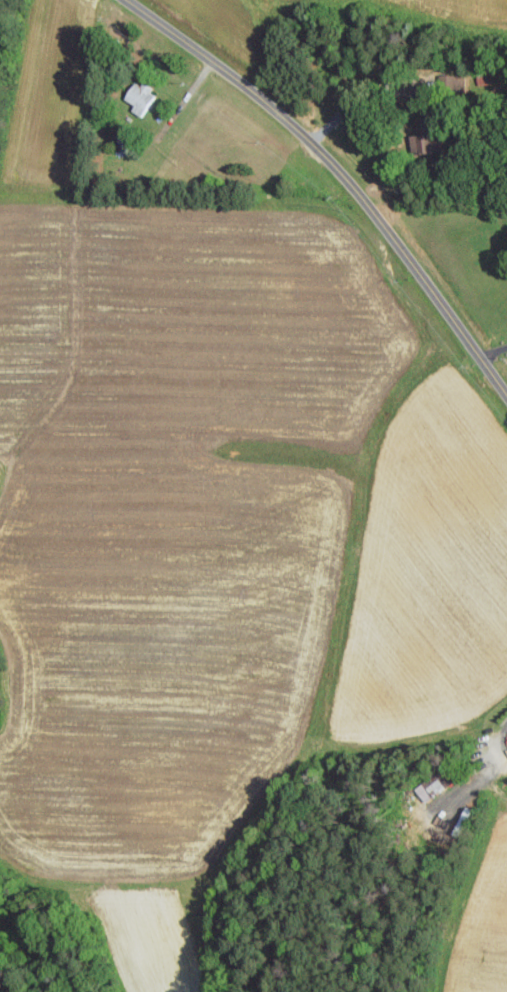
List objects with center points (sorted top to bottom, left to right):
road: (371, 91)
building: (137, 97)
building: (421, 145)
road: (340, 173)
road: (492, 350)
road: (499, 740)
building: (430, 786)

